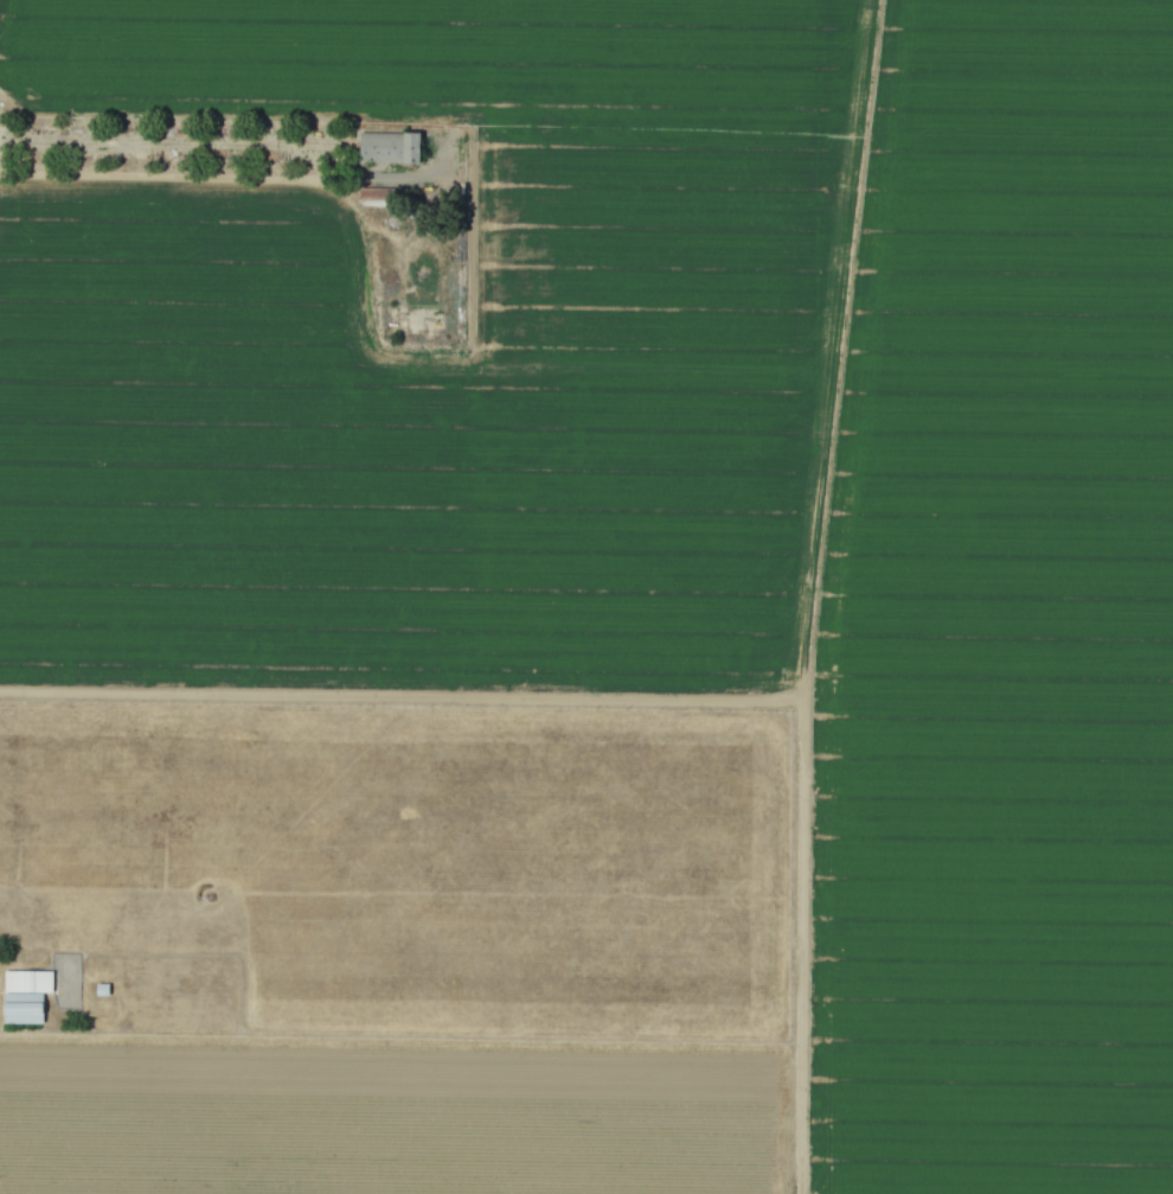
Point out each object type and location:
road: (172, 140)
building: (387, 147)
building: (24, 995)

